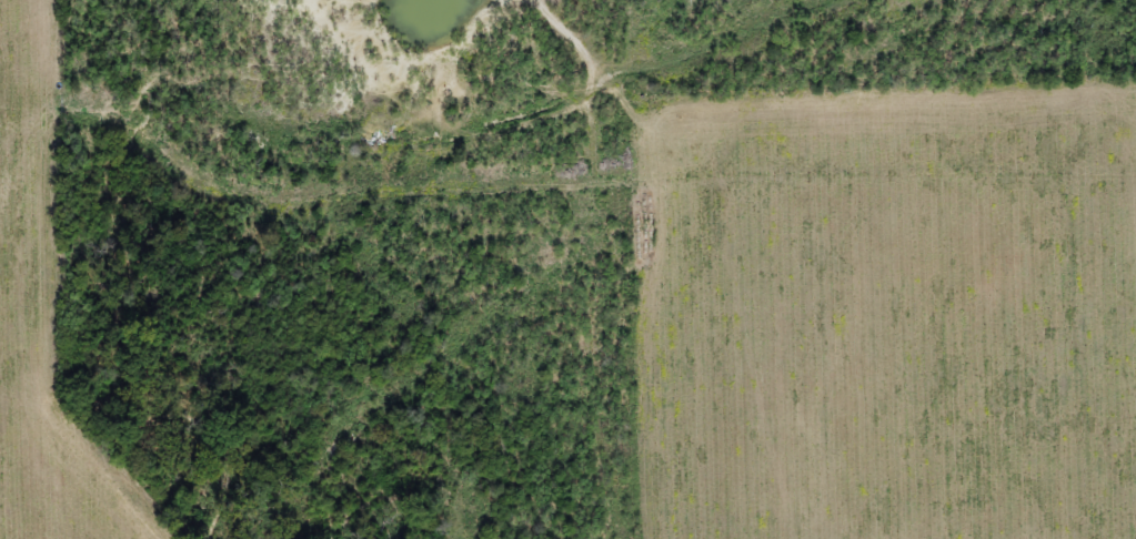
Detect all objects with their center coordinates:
road: (560, 24)

